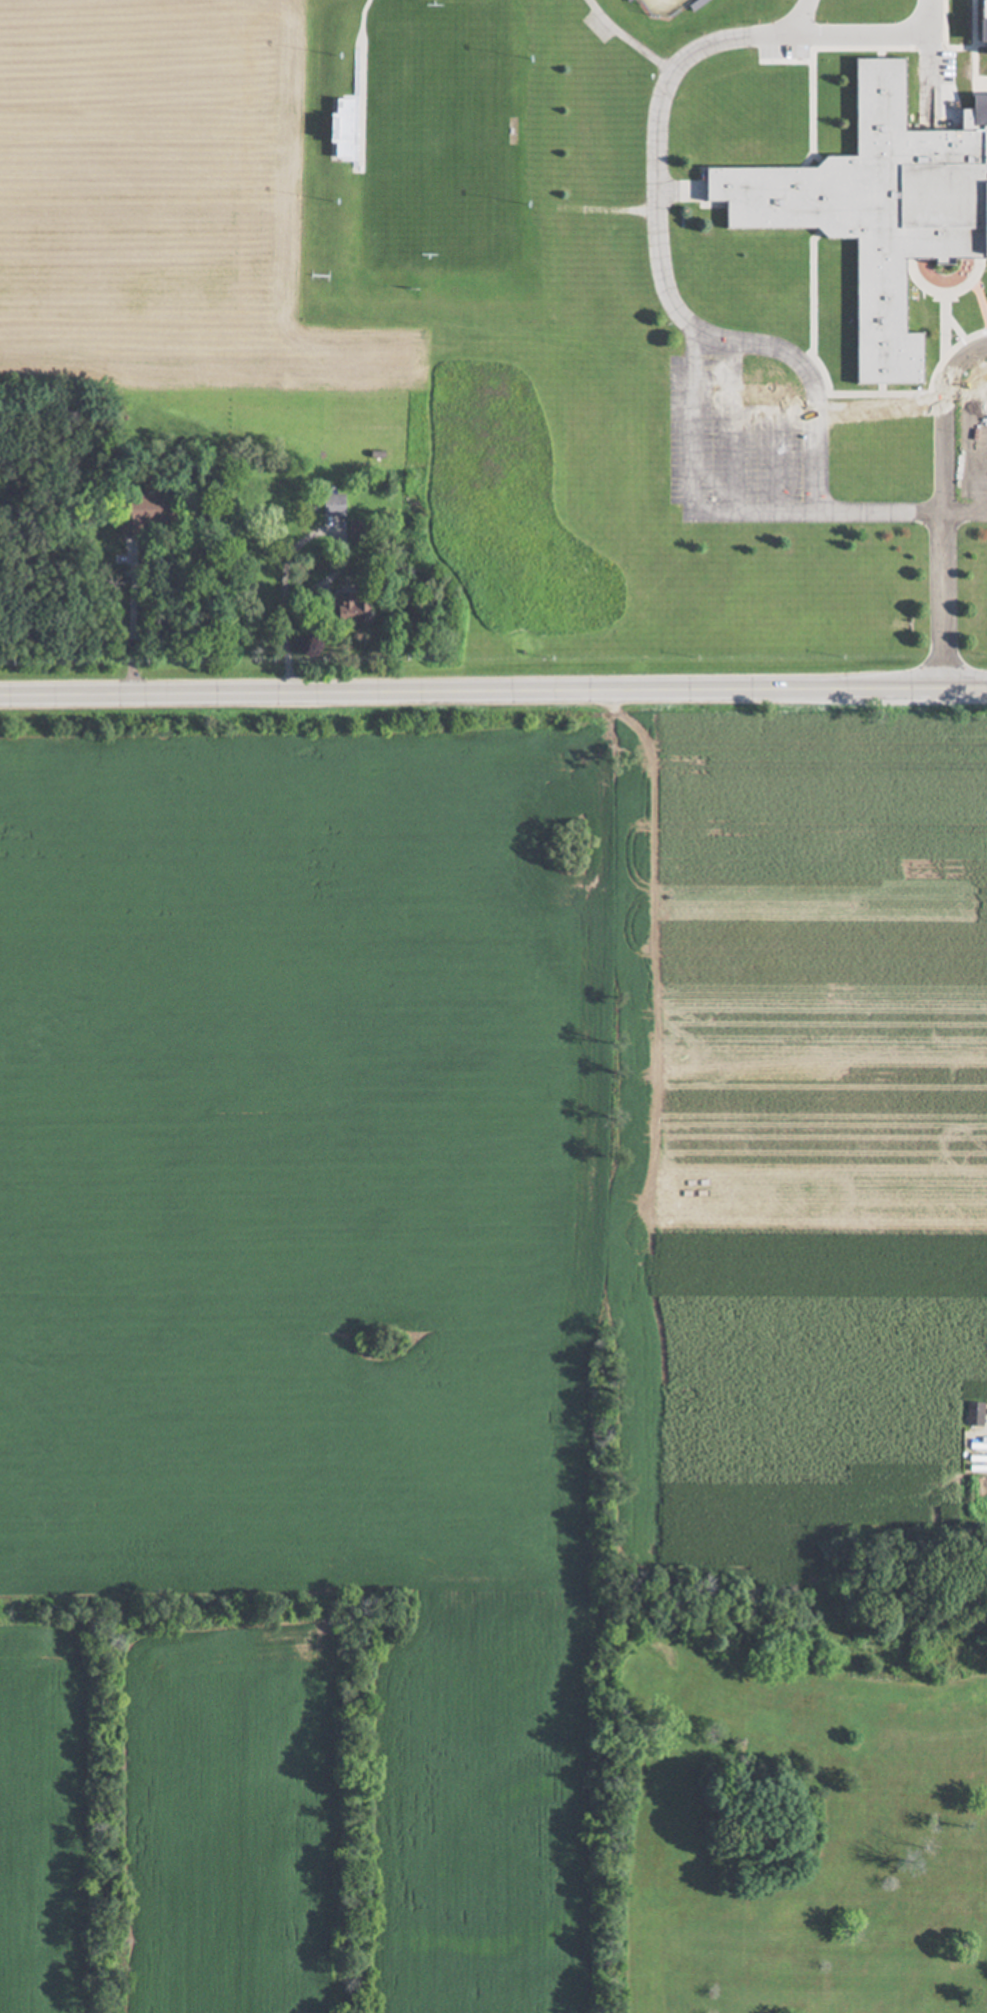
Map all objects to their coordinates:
building: (341, 106)
building: (872, 208)
road: (659, 292)
road: (688, 484)
road: (942, 498)
building: (332, 505)
building: (137, 511)
building: (346, 610)
road: (493, 688)
building: (979, 751)
building: (980, 820)
building: (973, 1414)

